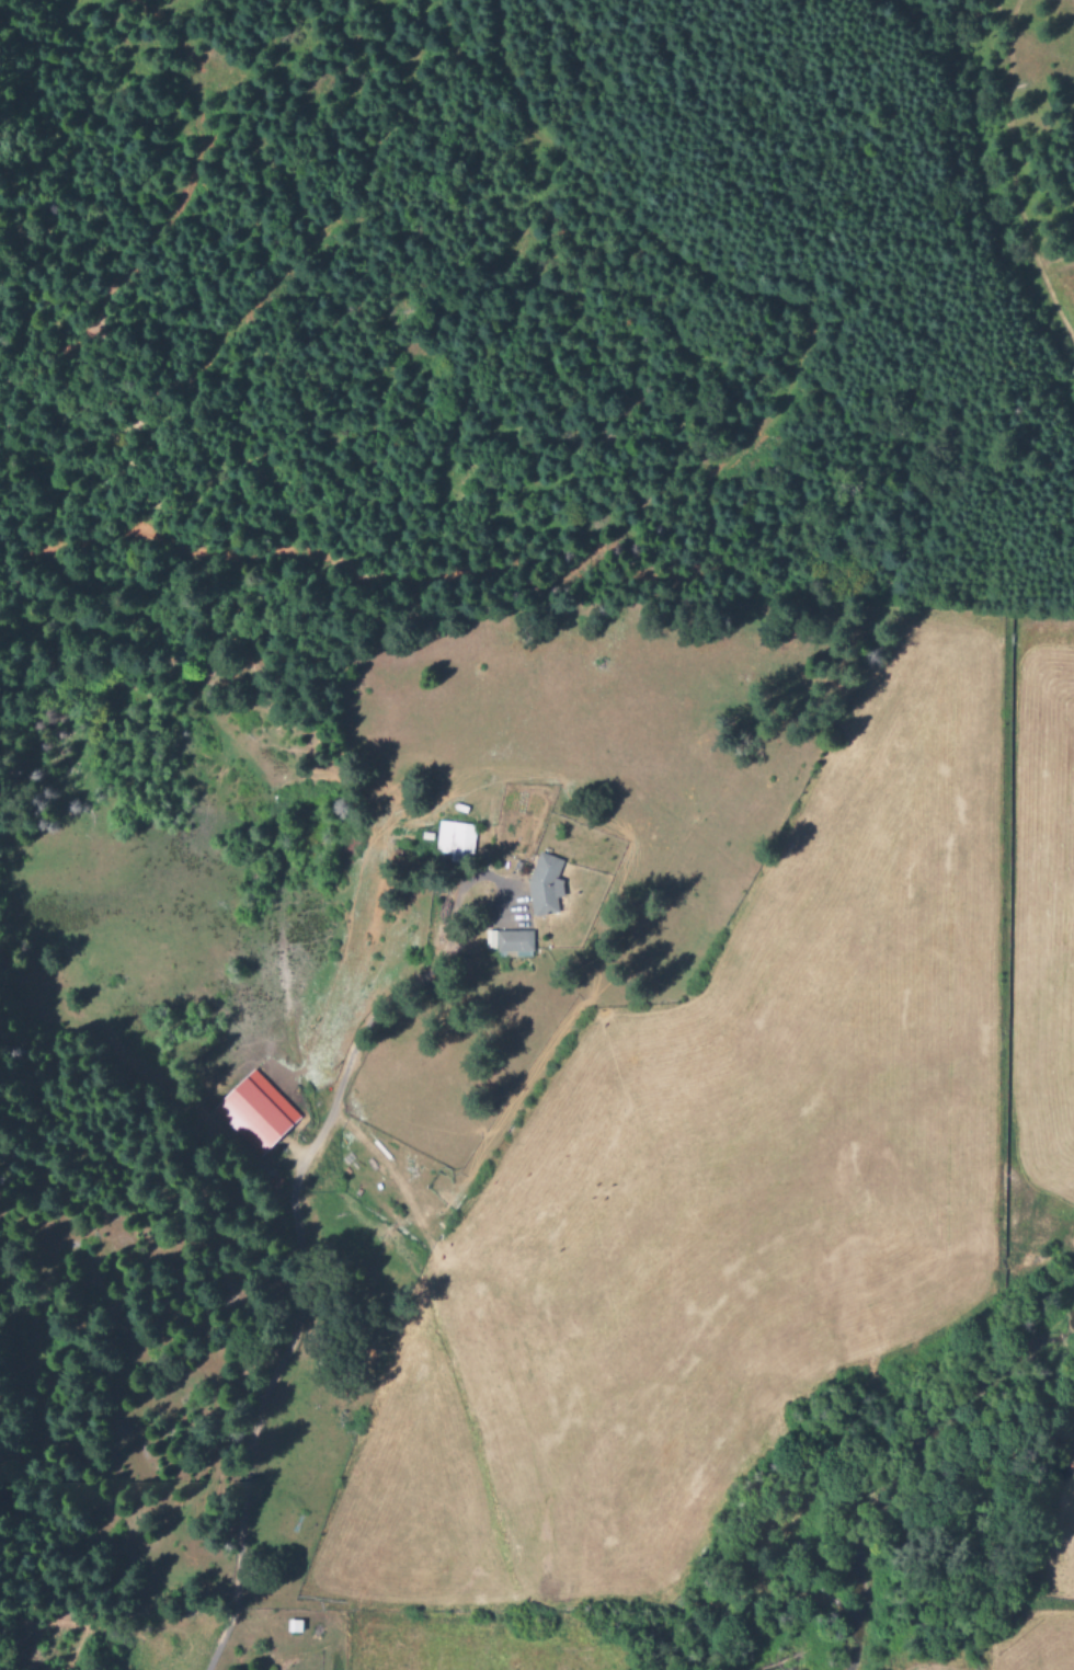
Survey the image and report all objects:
building: (454, 839)
building: (541, 885)
building: (507, 942)
road: (299, 1260)

